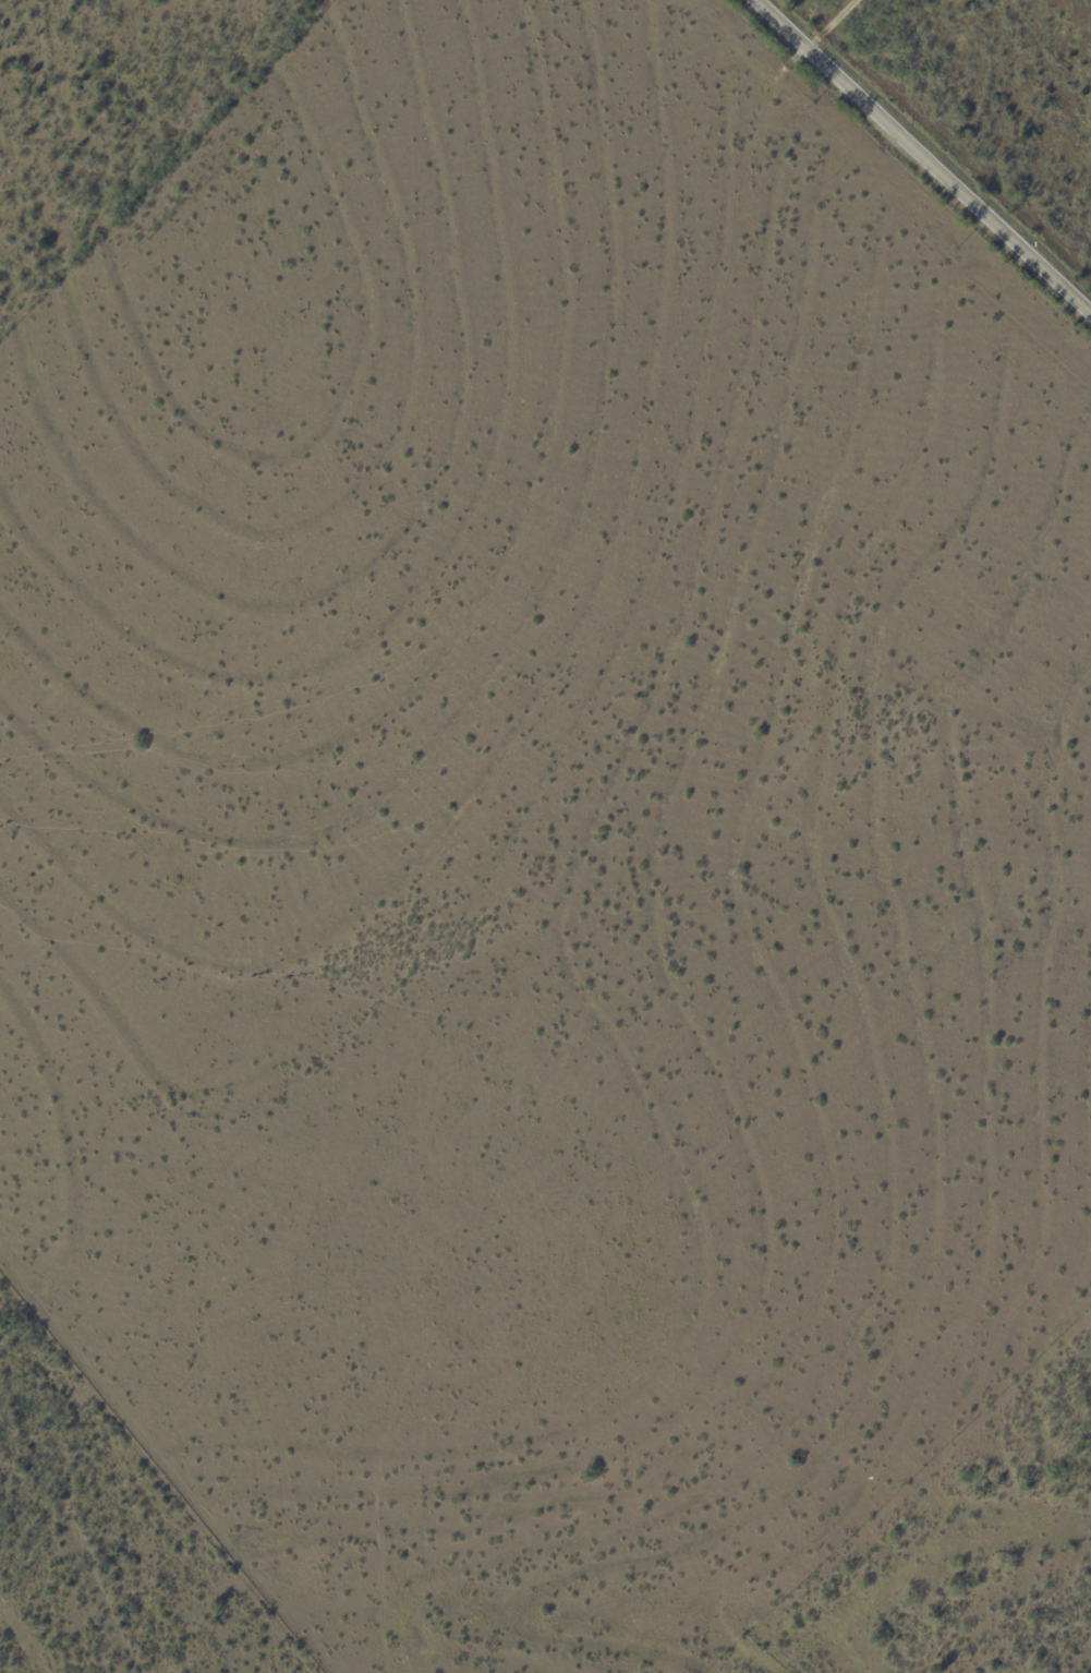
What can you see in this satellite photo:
road: (922, 155)

